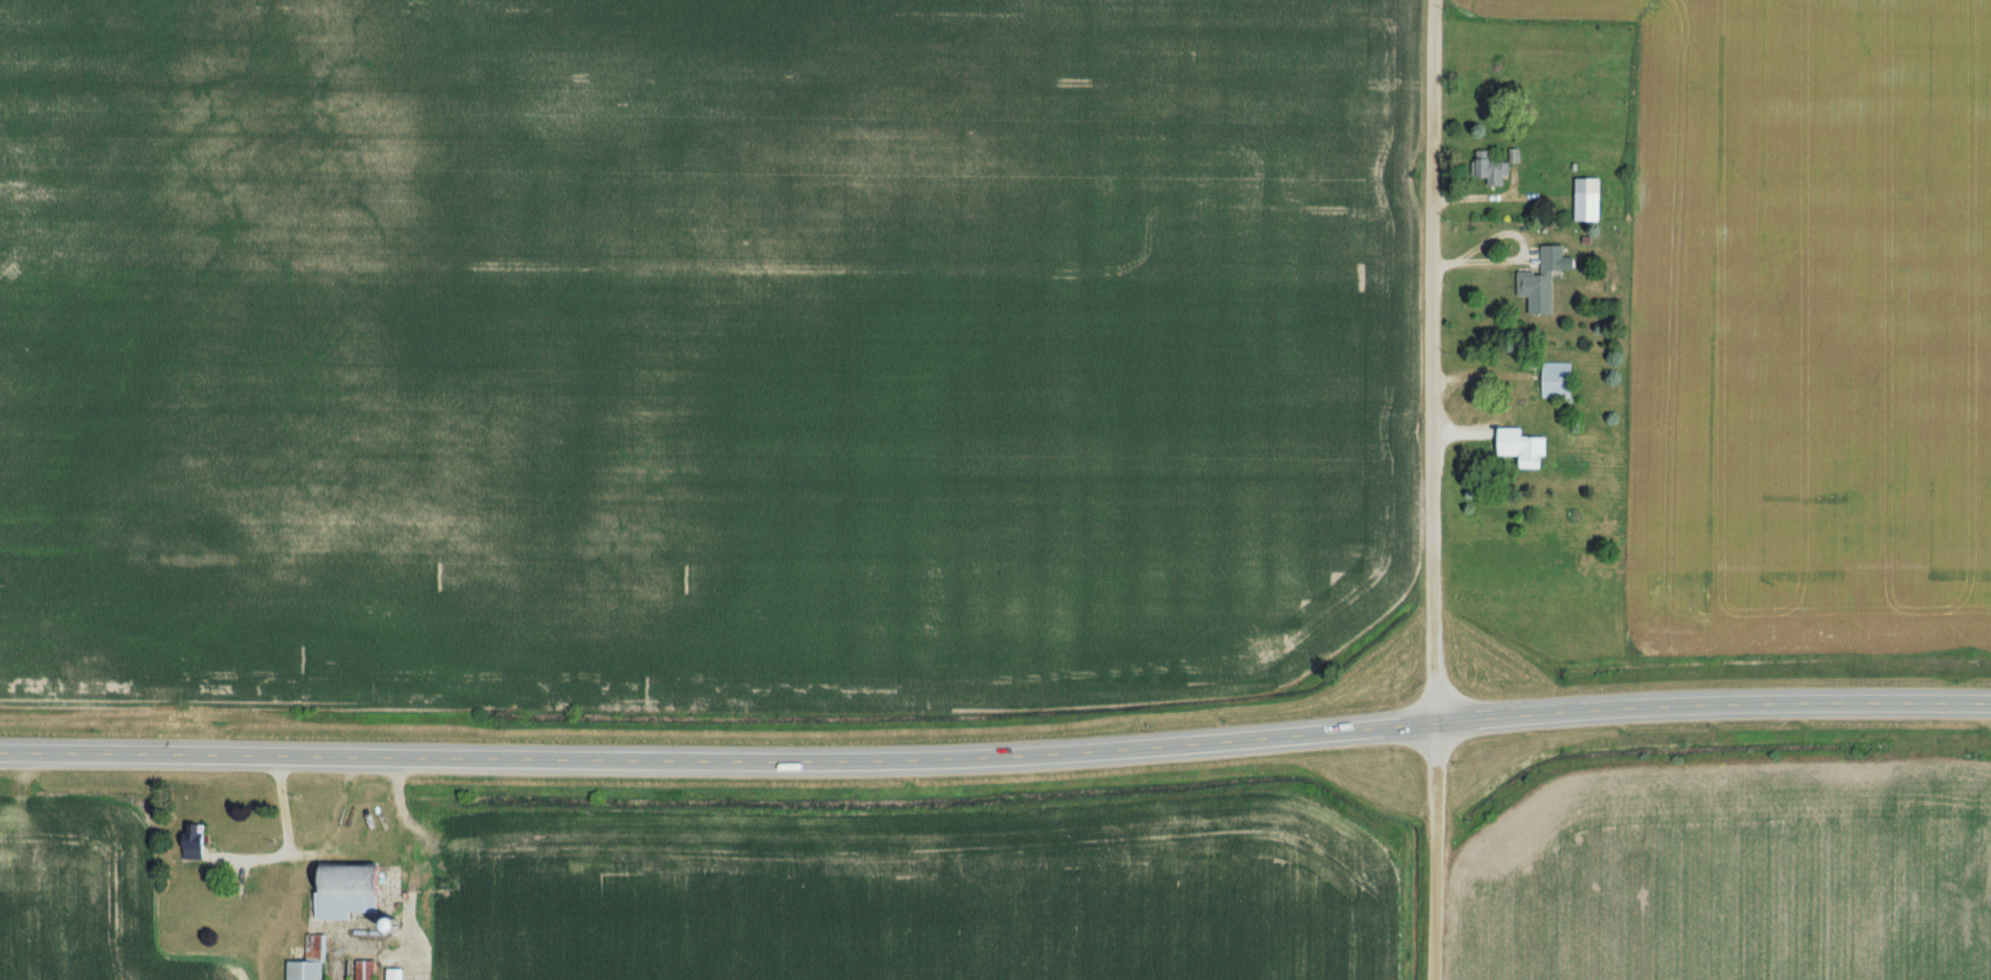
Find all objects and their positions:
building: (1493, 169)
building: (1592, 200)
building: (1545, 281)
building: (1560, 380)
building: (1526, 447)
road: (1427, 489)
road: (1707, 705)
road: (713, 761)
building: (1946, 832)
building: (197, 841)
road: (305, 853)
building: (352, 889)
building: (312, 960)
building: (367, 970)
building: (398, 973)

